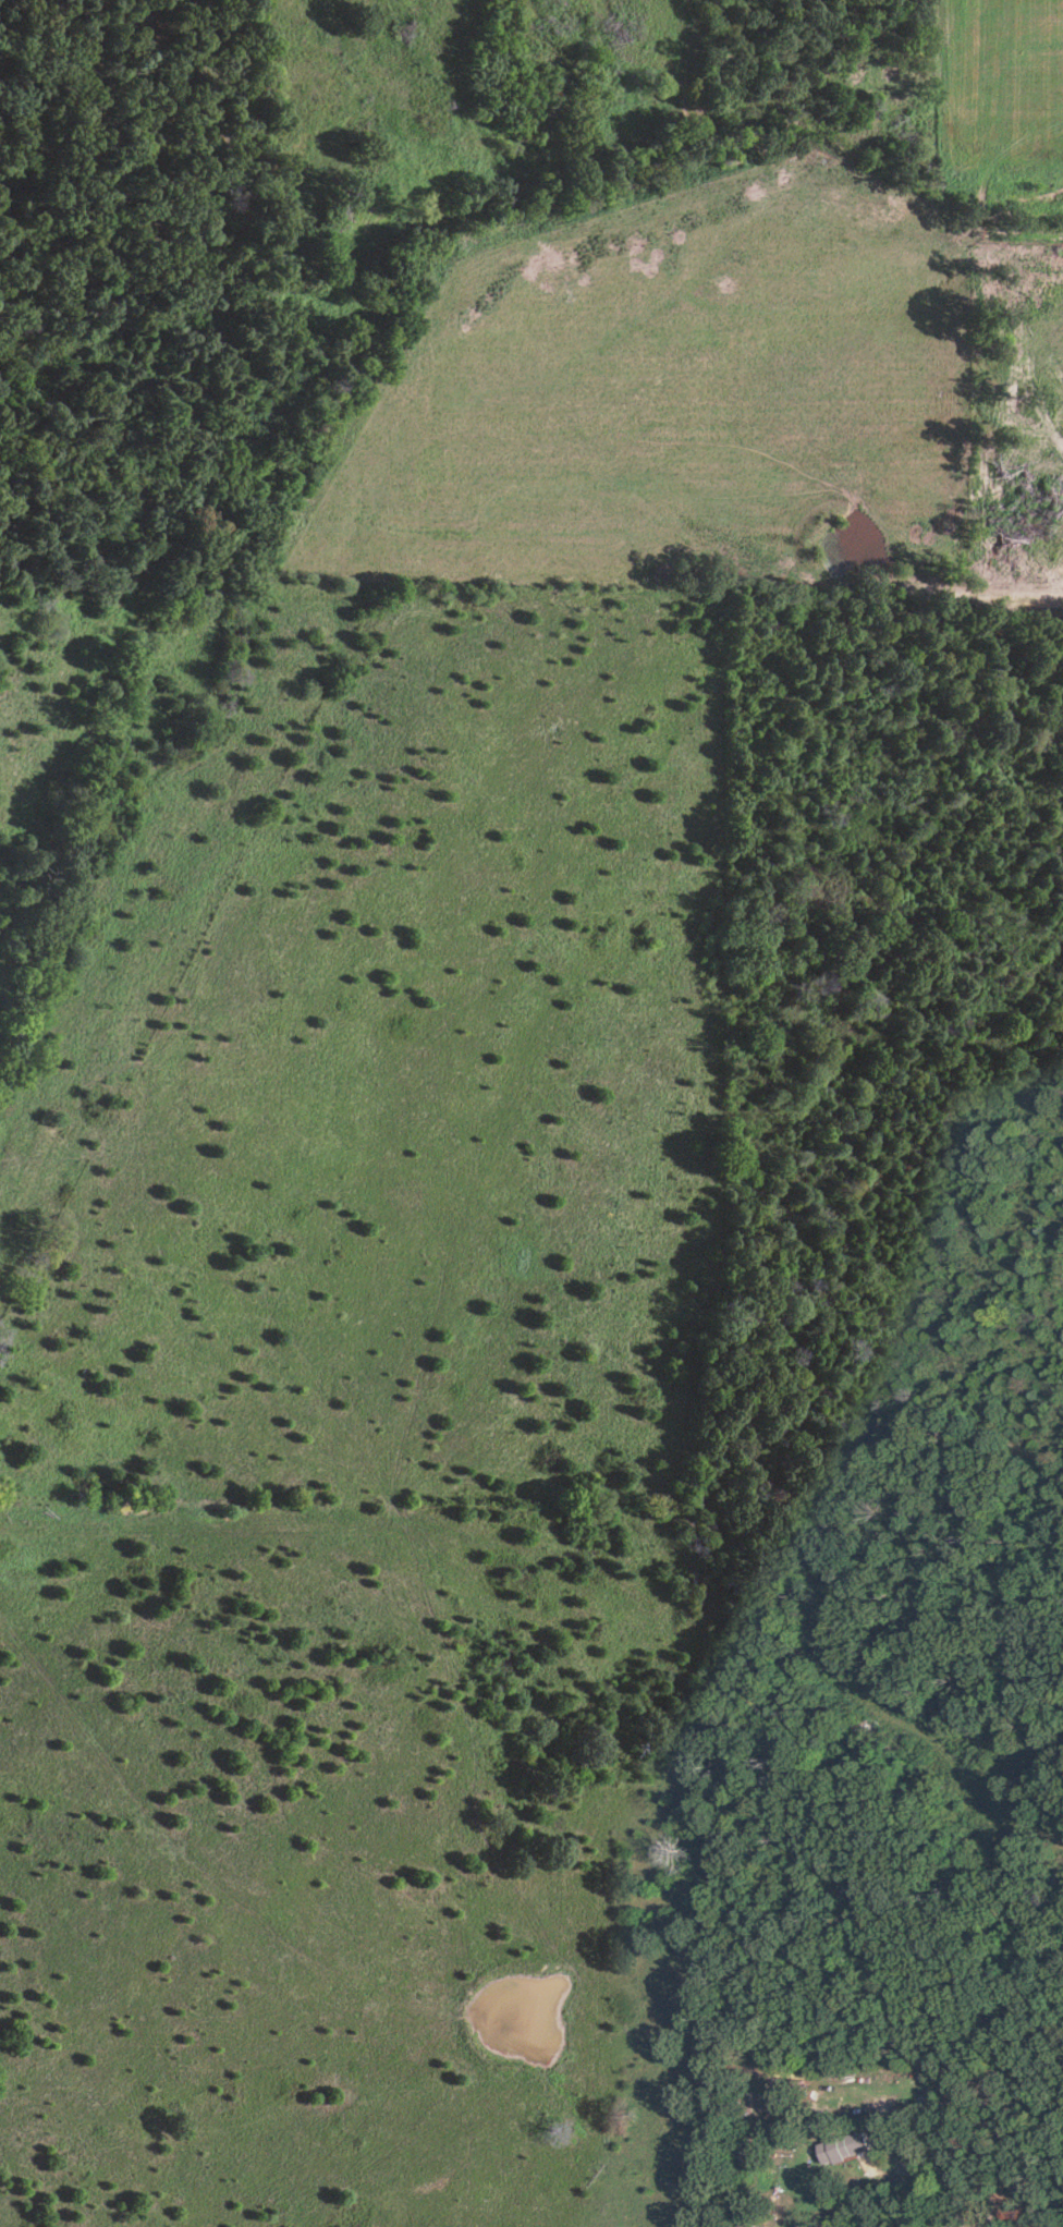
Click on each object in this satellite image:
building: (831, 2146)
road: (889, 2190)

